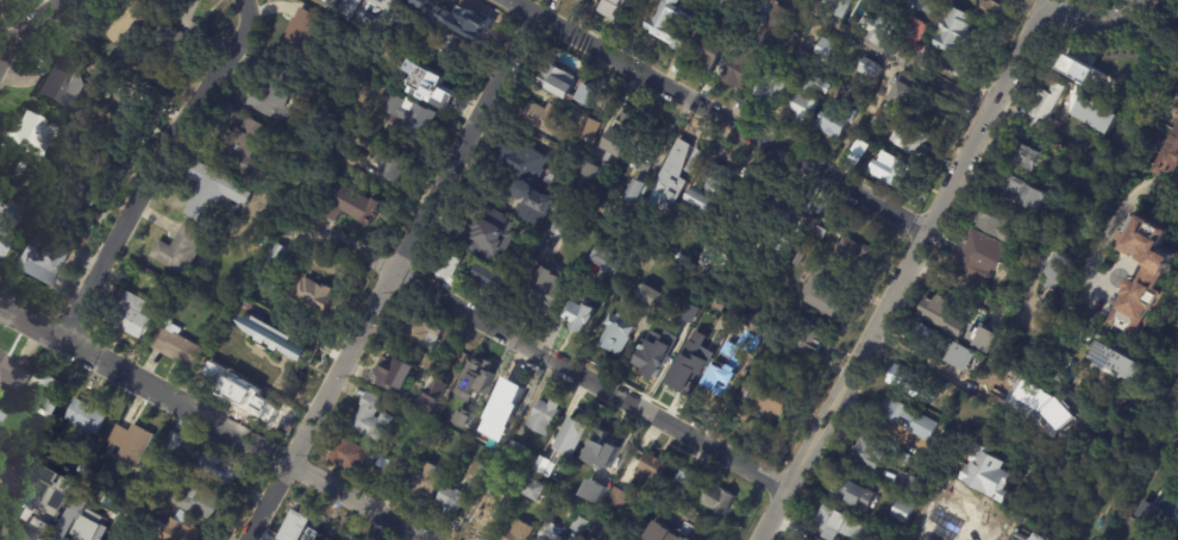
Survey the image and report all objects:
building: (384, 1)
building: (583, 1)
building: (732, 5)
building: (988, 6)
building: (349, 7)
building: (836, 7)
building: (610, 8)
road: (1097, 8)
building: (453, 18)
building: (129, 19)
building: (670, 24)
road: (30, 27)
building: (873, 30)
building: (911, 31)
building: (952, 32)
building: (303, 34)
building: (174, 39)
building: (439, 46)
building: (754, 50)
building: (825, 54)
road: (886, 54)
building: (708, 55)
building: (800, 59)
building: (383, 67)
building: (866, 69)
building: (65, 81)
building: (556, 82)
building: (337, 84)
building: (812, 87)
building: (428, 88)
building: (770, 92)
building: (901, 93)
building: (277, 95)
building: (583, 95)
building: (1084, 96)
building: (127, 103)
building: (1044, 107)
building: (801, 109)
road: (719, 112)
building: (884, 115)
building: (540, 117)
road: (863, 117)
building: (408, 118)
building: (132, 121)
building: (832, 124)
building: (585, 130)
building: (54, 132)
building: (25, 138)
building: (615, 142)
building: (909, 142)
building: (860, 146)
building: (247, 149)
building: (1164, 149)
building: (643, 152)
building: (1023, 156)
building: (353, 159)
building: (693, 162)
road: (152, 164)
building: (390, 164)
building: (892, 172)
building: (671, 176)
building: (87, 180)
building: (526, 181)
building: (583, 181)
building: (703, 189)
building: (211, 191)
building: (1016, 193)
building: (634, 194)
building: (748, 196)
building: (351, 207)
building: (0, 208)
road: (1120, 215)
building: (563, 224)
building: (77, 225)
building: (996, 225)
building: (813, 228)
building: (483, 237)
building: (264, 241)
building: (32, 243)
building: (2, 247)
building: (978, 251)
building: (181, 252)
building: (851, 255)
building: (277, 257)
building: (604, 259)
building: (797, 260)
building: (45, 262)
building: (712, 264)
building: (444, 268)
road: (901, 269)
building: (1053, 272)
road: (387, 274)
building: (1151, 274)
building: (487, 277)
road: (964, 287)
building: (698, 293)
building: (819, 293)
building: (541, 294)
building: (317, 296)
building: (648, 296)
building: (1060, 307)
building: (688, 312)
building: (939, 315)
building: (579, 316)
building: (133, 318)
building: (760, 329)
building: (419, 333)
building: (256, 334)
building: (614, 334)
building: (1083, 334)
building: (806, 335)
building: (290, 338)
building: (925, 338)
building: (178, 349)
building: (654, 352)
road: (546, 354)
building: (459, 356)
building: (961, 357)
building: (253, 360)
building: (691, 362)
building: (1115, 362)
building: (670, 363)
building: (233, 364)
building: (996, 368)
building: (11, 372)
building: (393, 373)
building: (278, 377)
road: (145, 379)
building: (211, 379)
building: (475, 381)
building: (907, 387)
building: (942, 388)
building: (1064, 391)
building: (46, 393)
building: (428, 398)
building: (766, 400)
building: (255, 407)
building: (497, 413)
building: (1, 416)
building: (742, 416)
building: (372, 419)
building: (463, 419)
building: (543, 419)
building: (909, 420)
building: (86, 421)
building: (571, 438)
building: (175, 441)
building: (433, 441)
building: (133, 442)
building: (866, 450)
building: (51, 451)
building: (509, 452)
building: (601, 452)
building: (346, 457)
building: (541, 467)
building: (84, 469)
building: (219, 470)
building: (476, 470)
building: (647, 473)
building: (985, 475)
building: (10, 478)
building: (393, 478)
building: (422, 482)
building: (681, 482)
building: (911, 488)
building: (851, 490)
building: (532, 491)
building: (593, 492)
road: (359, 498)
building: (716, 498)
building: (615, 500)
building: (199, 502)
building: (449, 502)
building: (42, 504)
building: (934, 504)
building: (902, 508)
building: (1152, 514)
building: (183, 515)
building: (480, 515)
building: (840, 523)
building: (303, 525)
building: (578, 525)
building: (86, 526)
building: (181, 530)
building: (671, 532)
building: (935, 532)
road: (967, 532)
building: (549, 533)
building: (519, 534)
building: (591, 534)
building: (1177, 534)
building: (346, 536)
building: (1019, 538)
building: (1033, 538)
building: (883, 539)

